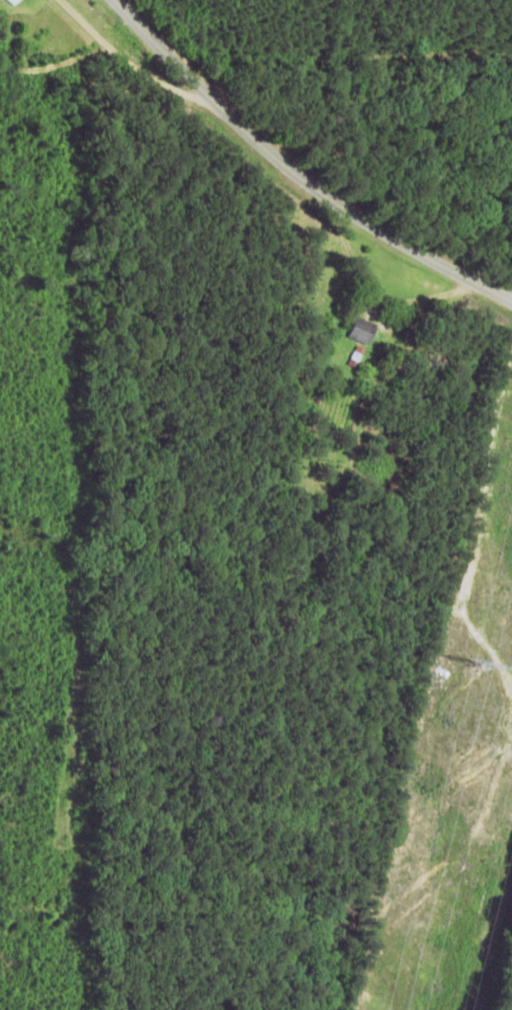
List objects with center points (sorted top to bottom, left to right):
building: (6, 1)
road: (290, 169)
building: (353, 330)
power tower: (473, 664)

